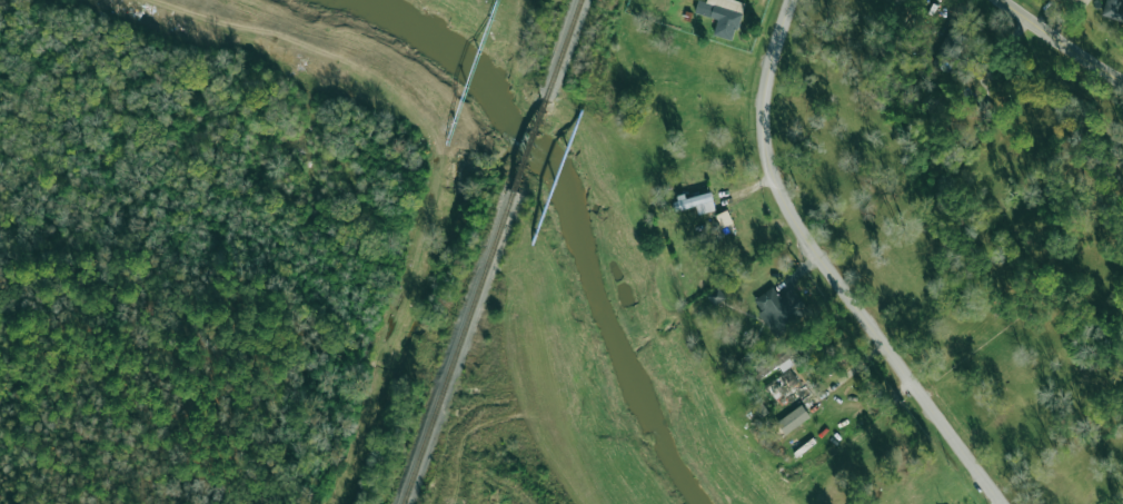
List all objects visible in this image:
building: (1114, 9)
building: (722, 16)
road: (1060, 42)
building: (950, 49)
railway: (564, 50)
railway: (530, 145)
river: (567, 196)
building: (696, 202)
road: (827, 269)
building: (715, 296)
building: (778, 309)
railway: (458, 346)
building: (769, 363)
building: (792, 386)
building: (793, 419)

